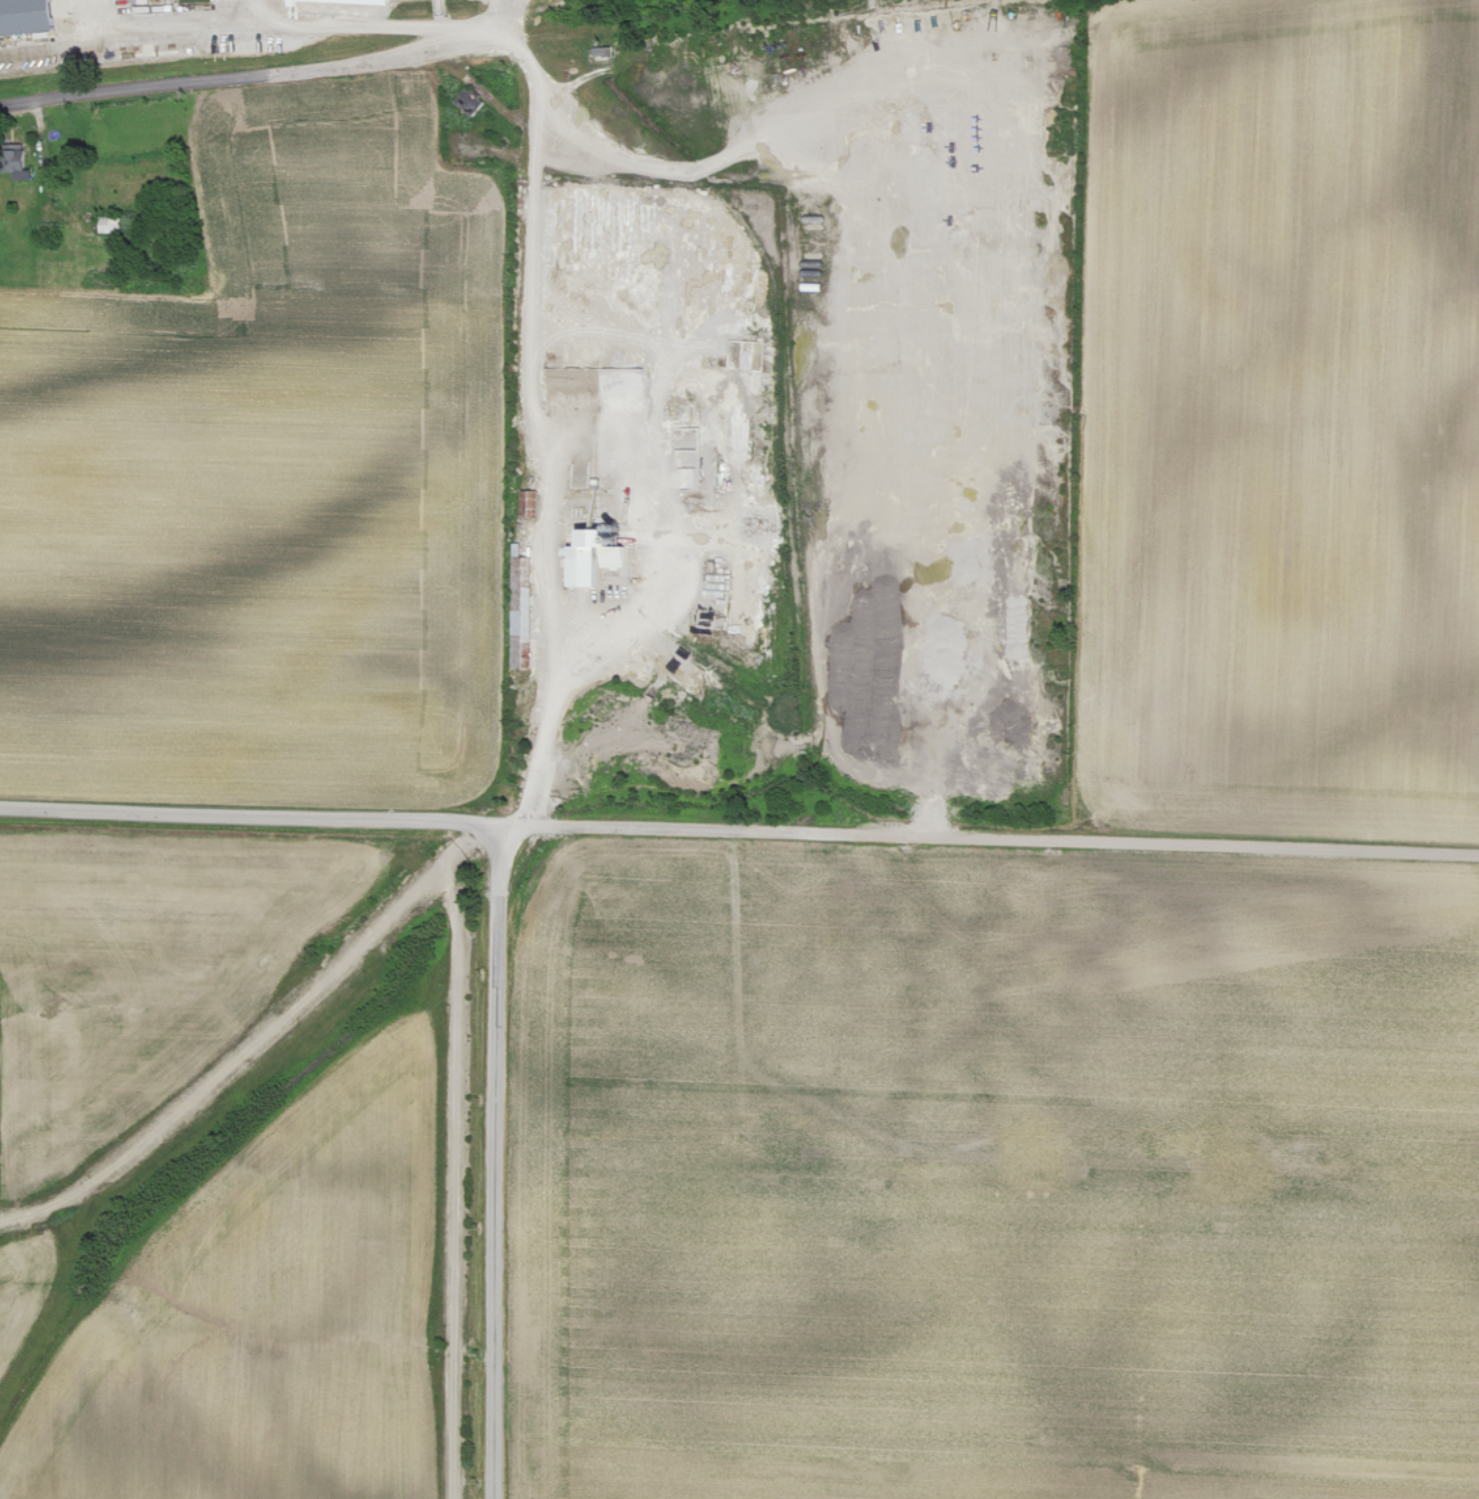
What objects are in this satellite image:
building: (141, 2)
building: (343, 2)
road: (239, 11)
road: (506, 12)
building: (29, 16)
road: (515, 23)
road: (294, 24)
road: (258, 79)
building: (471, 102)
road: (734, 157)
building: (24, 163)
building: (113, 224)
road: (541, 441)
building: (600, 557)
road: (739, 825)
road: (460, 1154)
road: (494, 1164)

